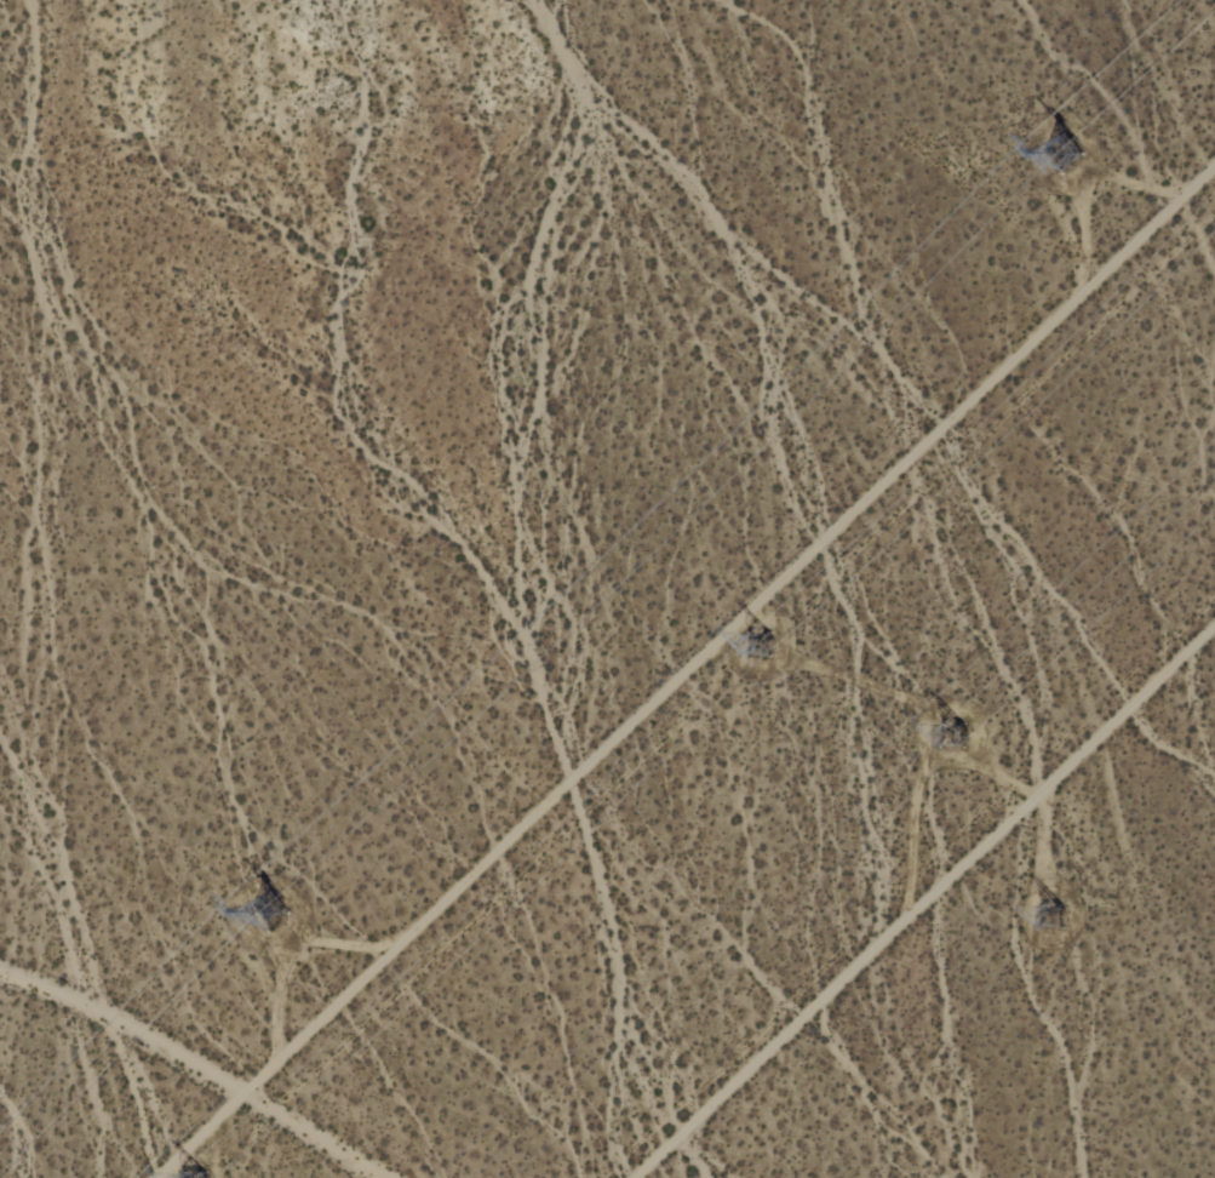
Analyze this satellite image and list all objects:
power tower: (1062, 156)
power tower: (746, 646)
road: (686, 670)
power tower: (957, 732)
road: (927, 902)
power tower: (260, 917)
power tower: (1054, 917)
road: (194, 1067)

